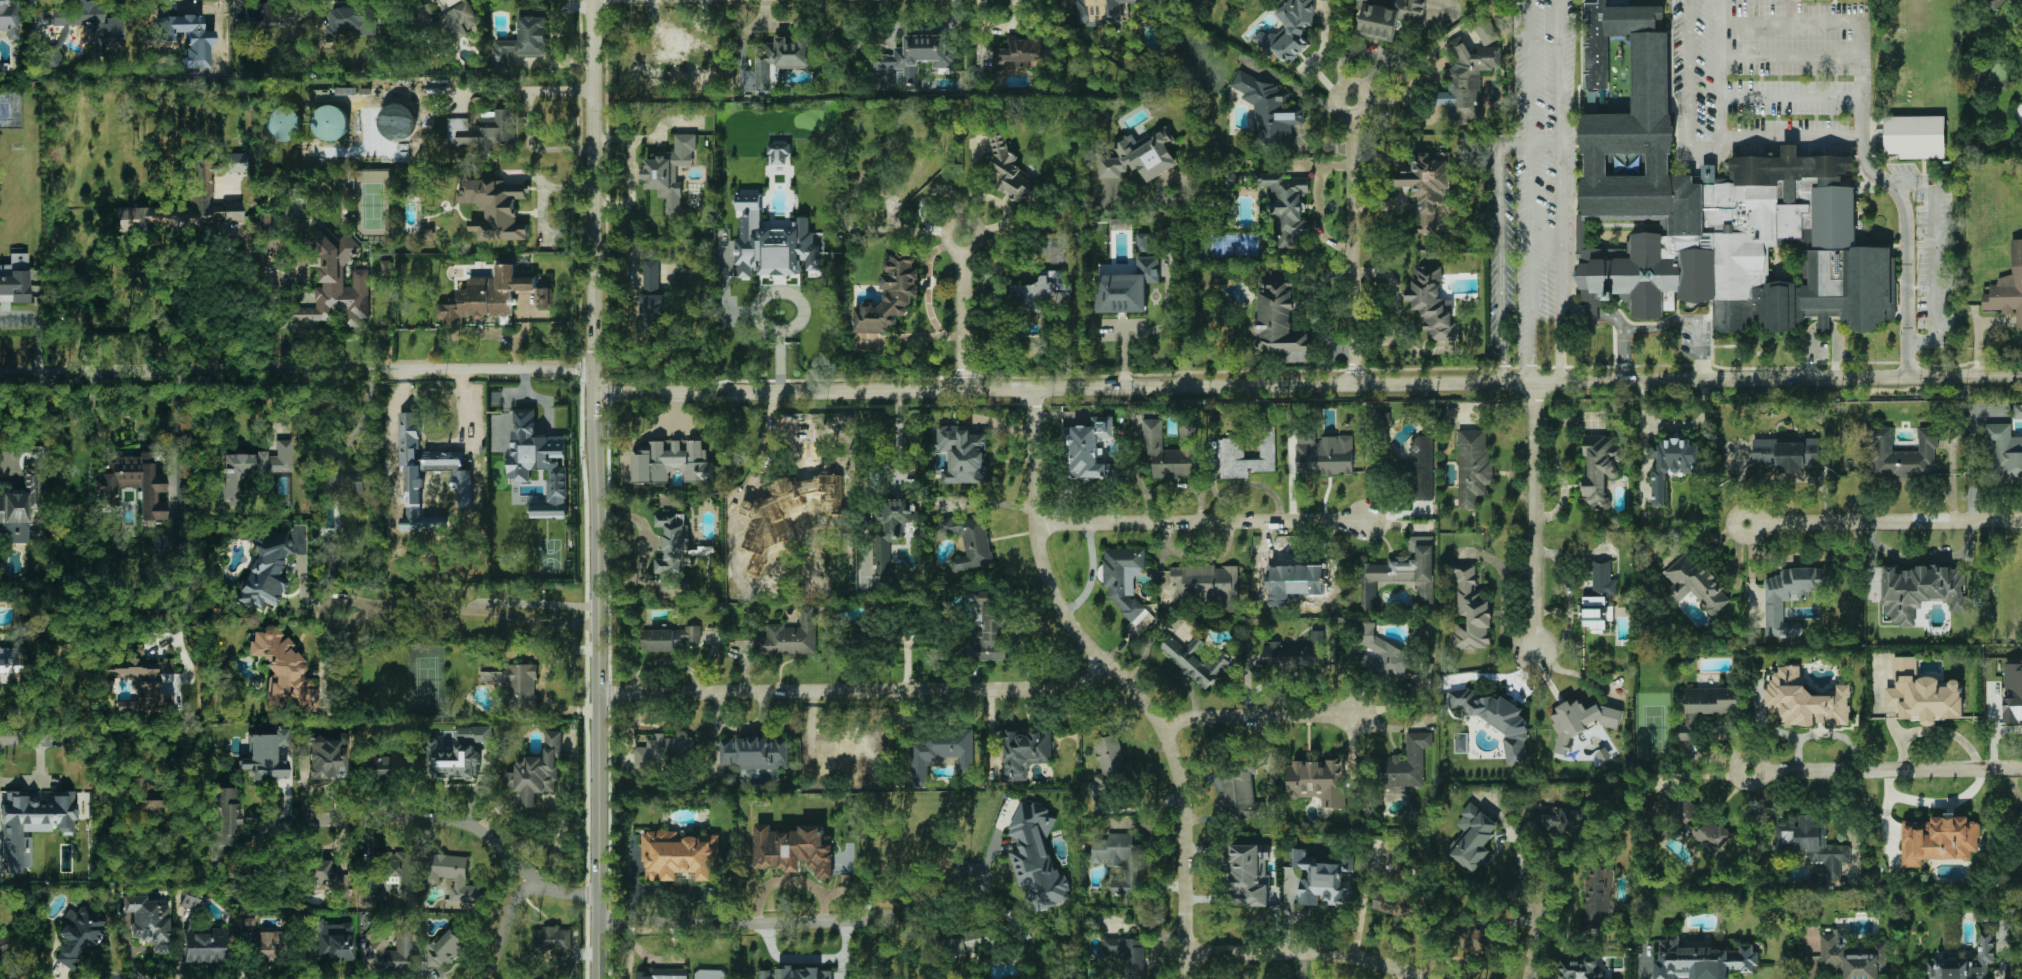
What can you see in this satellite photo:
building: (2004, 0)
road: (441, 1)
building: (1102, 11)
building: (425, 16)
building: (1388, 16)
building: (277, 18)
building: (9, 19)
building: (458, 21)
building: (352, 22)
road: (1757, 23)
building: (91, 24)
building: (1288, 30)
building: (1486, 30)
building: (524, 40)
building: (1020, 52)
building: (918, 55)
road: (1790, 56)
building: (51, 58)
building: (675, 59)
building: (780, 59)
road: (1718, 67)
building: (775, 77)
building: (1466, 79)
road: (520, 90)
road: (1688, 97)
road: (1790, 97)
building: (1270, 109)
building: (330, 122)
building: (283, 123)
building: (484, 129)
road: (1790, 136)
building: (1915, 136)
road: (1544, 143)
road: (536, 144)
building: (779, 153)
building: (1141, 155)
building: (233, 162)
road: (1865, 162)
building: (670, 171)
building: (1013, 172)
building: (1427, 185)
road: (1528, 191)
road: (1561, 191)
road: (1319, 202)
building: (1287, 203)
building: (1715, 204)
building: (184, 207)
building: (495, 208)
building: (1120, 223)
building: (1143, 242)
road: (1352, 242)
road: (1499, 251)
road: (1932, 257)
building: (651, 275)
building: (14, 279)
building: (337, 283)
road: (1183, 286)
building: (2008, 287)
building: (1127, 288)
building: (1045, 291)
building: (486, 296)
building: (544, 297)
building: (888, 300)
building: (1433, 303)
road: (803, 306)
road: (1397, 309)
building: (650, 311)
road: (964, 313)
road: (276, 314)
building: (1278, 317)
road: (1690, 320)
road: (1618, 325)
road: (1823, 326)
road: (38, 330)
road: (472, 331)
road: (298, 373)
road: (1305, 385)
building: (2017, 410)
road: (361, 416)
building: (1382, 418)
road: (30, 420)
road: (405, 423)
road: (896, 441)
building: (1231, 448)
building: (1091, 449)
building: (2005, 449)
building: (1170, 450)
building: (1786, 453)
building: (1901, 453)
building: (963, 454)
building: (1324, 454)
building: (673, 461)
building: (540, 462)
building: (1671, 464)
building: (1473, 467)
building: (1421, 469)
building: (1599, 469)
building: (250, 471)
building: (343, 478)
road: (1139, 483)
building: (133, 484)
road: (1174, 484)
road: (593, 489)
road: (190, 500)
building: (19, 509)
road: (1534, 516)
road: (1196, 522)
road: (1883, 522)
building: (891, 534)
building: (969, 540)
building: (671, 548)
building: (331, 556)
road: (1751, 568)
building: (266, 570)
building: (1401, 572)
road: (1091, 574)
building: (1124, 579)
building: (1207, 583)
building: (1298, 583)
building: (1695, 583)
building: (1920, 589)
building: (1599, 597)
building: (1788, 597)
road: (483, 606)
road: (367, 611)
building: (1471, 611)
building: (990, 626)
building: (791, 636)
building: (862, 637)
building: (668, 638)
road: (1149, 643)
building: (1297, 652)
building: (1384, 656)
building: (1196, 661)
road: (666, 662)
building: (12, 665)
road: (1570, 672)
building: (284, 673)
road: (1120, 679)
road: (541, 680)
building: (139, 681)
building: (516, 683)
road: (853, 690)
building: (2013, 690)
building: (1923, 693)
building: (1706, 706)
road: (1252, 717)
building: (1497, 720)
building: (1581, 721)
road: (1779, 730)
building: (476, 733)
road: (1839, 734)
road: (51, 741)
building: (839, 749)
building: (662, 750)
building: (940, 752)
building: (1024, 752)
building: (754, 753)
building: (265, 756)
building: (326, 757)
building: (452, 760)
building: (1408, 762)
building: (384, 766)
building: (1108, 767)
road: (1885, 770)
building: (537, 772)
road: (40, 781)
building: (1318, 781)
building: (1240, 791)
building: (144, 797)
road: (450, 819)
building: (224, 821)
building: (1533, 821)
building: (1559, 821)
building: (33, 824)
building: (1696, 824)
building: (1473, 837)
building: (1939, 839)
building: (1811, 845)
building: (794, 849)
building: (679, 855)
building: (1037, 856)
building: (1394, 857)
building: (1119, 858)
building: (393, 874)
building: (1249, 874)
building: (454, 876)
building: (329, 879)
building: (1321, 880)
road: (790, 881)
building: (1597, 895)
building: (190, 901)
building: (1392, 903)
building: (148, 921)
road: (796, 923)
road: (502, 928)
building: (1473, 934)
building: (79, 935)
road: (1533, 936)
building: (550, 939)
building: (333, 940)
building: (261, 942)
building: (204, 946)
building: (443, 950)
road: (1306, 952)
building: (390, 953)
building: (1128, 953)
building: (1852, 956)
road: (809, 960)
building: (1701, 960)
building: (1964, 963)
building: (2, 966)
building: (1580, 968)
building: (664, 973)
building: (794, 973)
building: (530, 978)

